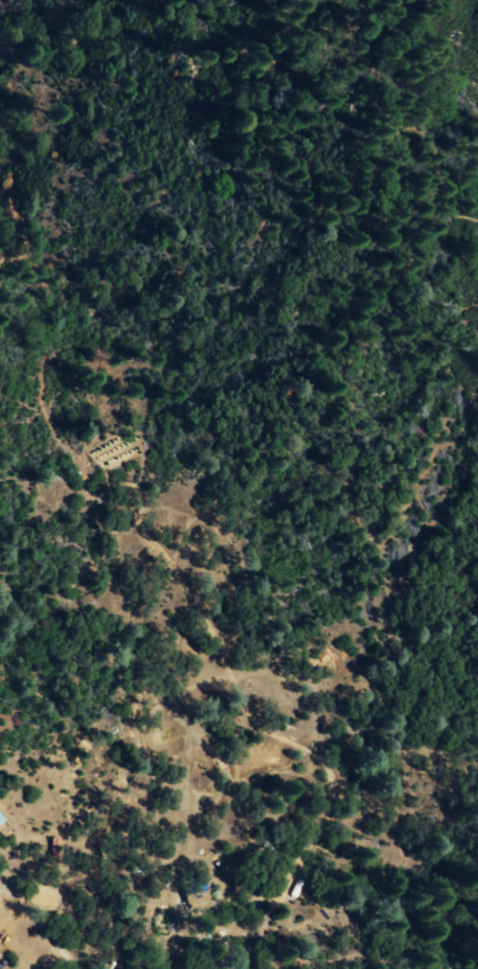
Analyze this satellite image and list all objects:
building: (1, 820)

